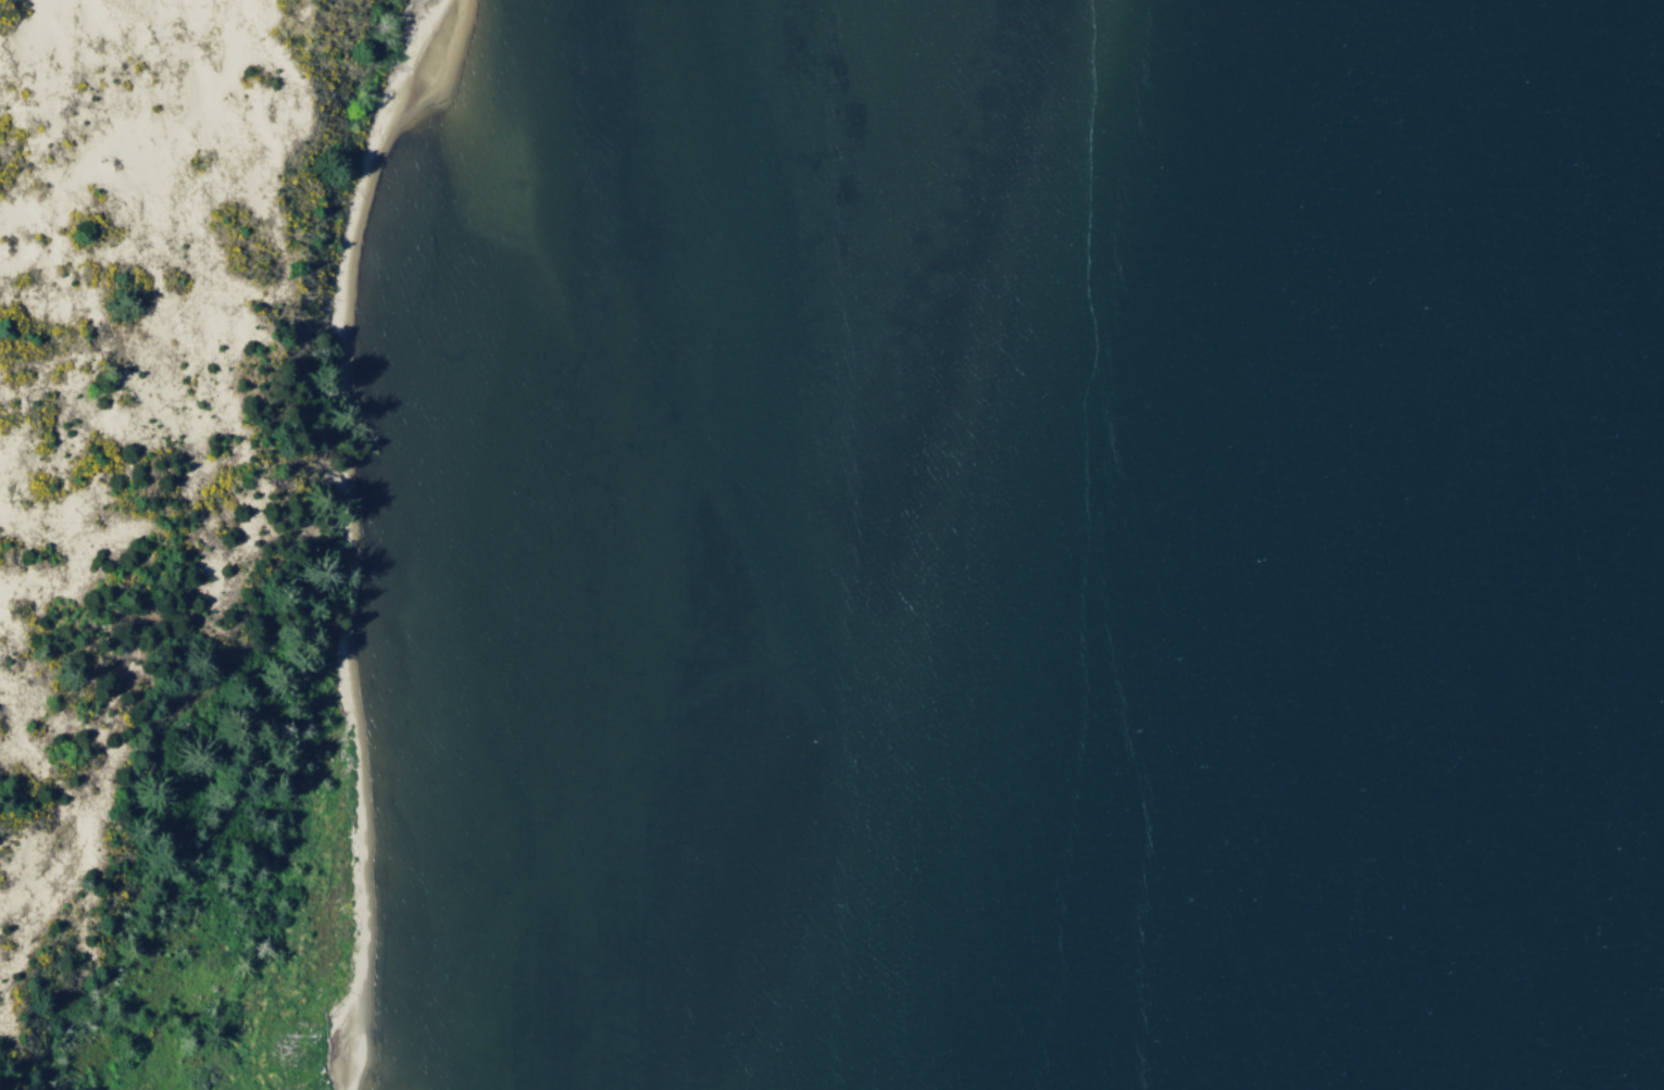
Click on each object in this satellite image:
river: (1500, 555)

